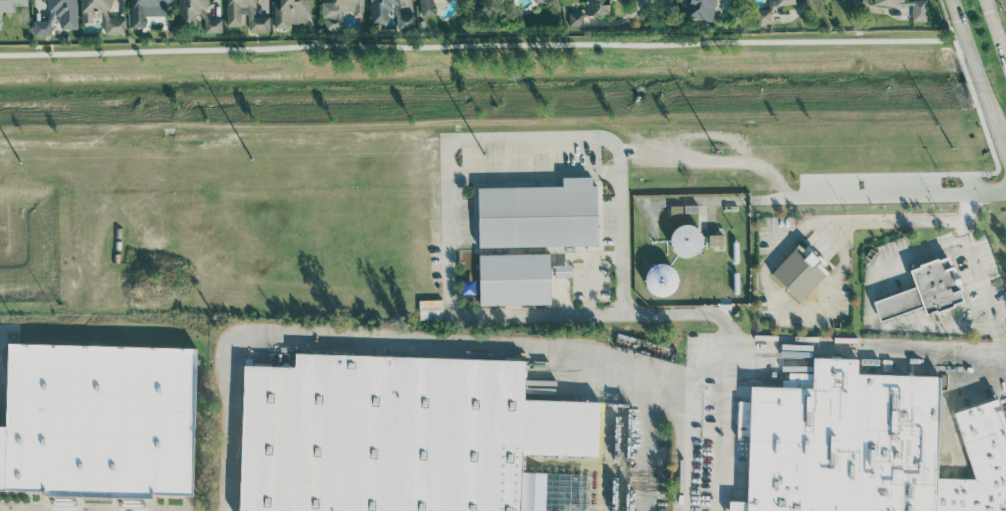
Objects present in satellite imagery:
building: (537, 0)
building: (778, 3)
building: (10, 5)
building: (426, 6)
building: (595, 7)
building: (904, 7)
building: (92, 9)
building: (380, 10)
building: (699, 10)
building: (143, 11)
building: (338, 12)
building: (292, 13)
road: (957, 14)
road: (989, 14)
building: (244, 15)
building: (195, 16)
building: (56, 17)
building: (761, 17)
building: (577, 19)
building: (113, 27)
road: (1000, 45)
road: (978, 72)
road: (1000, 131)
road: (708, 156)
road: (536, 173)
road: (897, 190)
road: (704, 199)
parking lot: (462, 208)
road: (449, 209)
building: (678, 210)
building: (538, 215)
building: (683, 240)
building: (716, 240)
road: (783, 250)
road: (562, 254)
parking lot: (597, 265)
road: (978, 267)
parking lot: (762, 269)
building: (564, 271)
building: (798, 272)
building: (514, 279)
building: (661, 279)
parking lot: (980, 282)
road: (590, 283)
building: (922, 291)
road: (896, 295)
building: (430, 312)
road: (541, 347)
parking lot: (1003, 403)
building: (98, 422)
road: (726, 427)
building: (395, 433)
parking lot: (714, 438)
road: (650, 439)
road: (683, 443)
building: (843, 443)
building: (977, 464)
road: (739, 484)
building: (551, 491)
road: (2, 510)
road: (10, 510)

